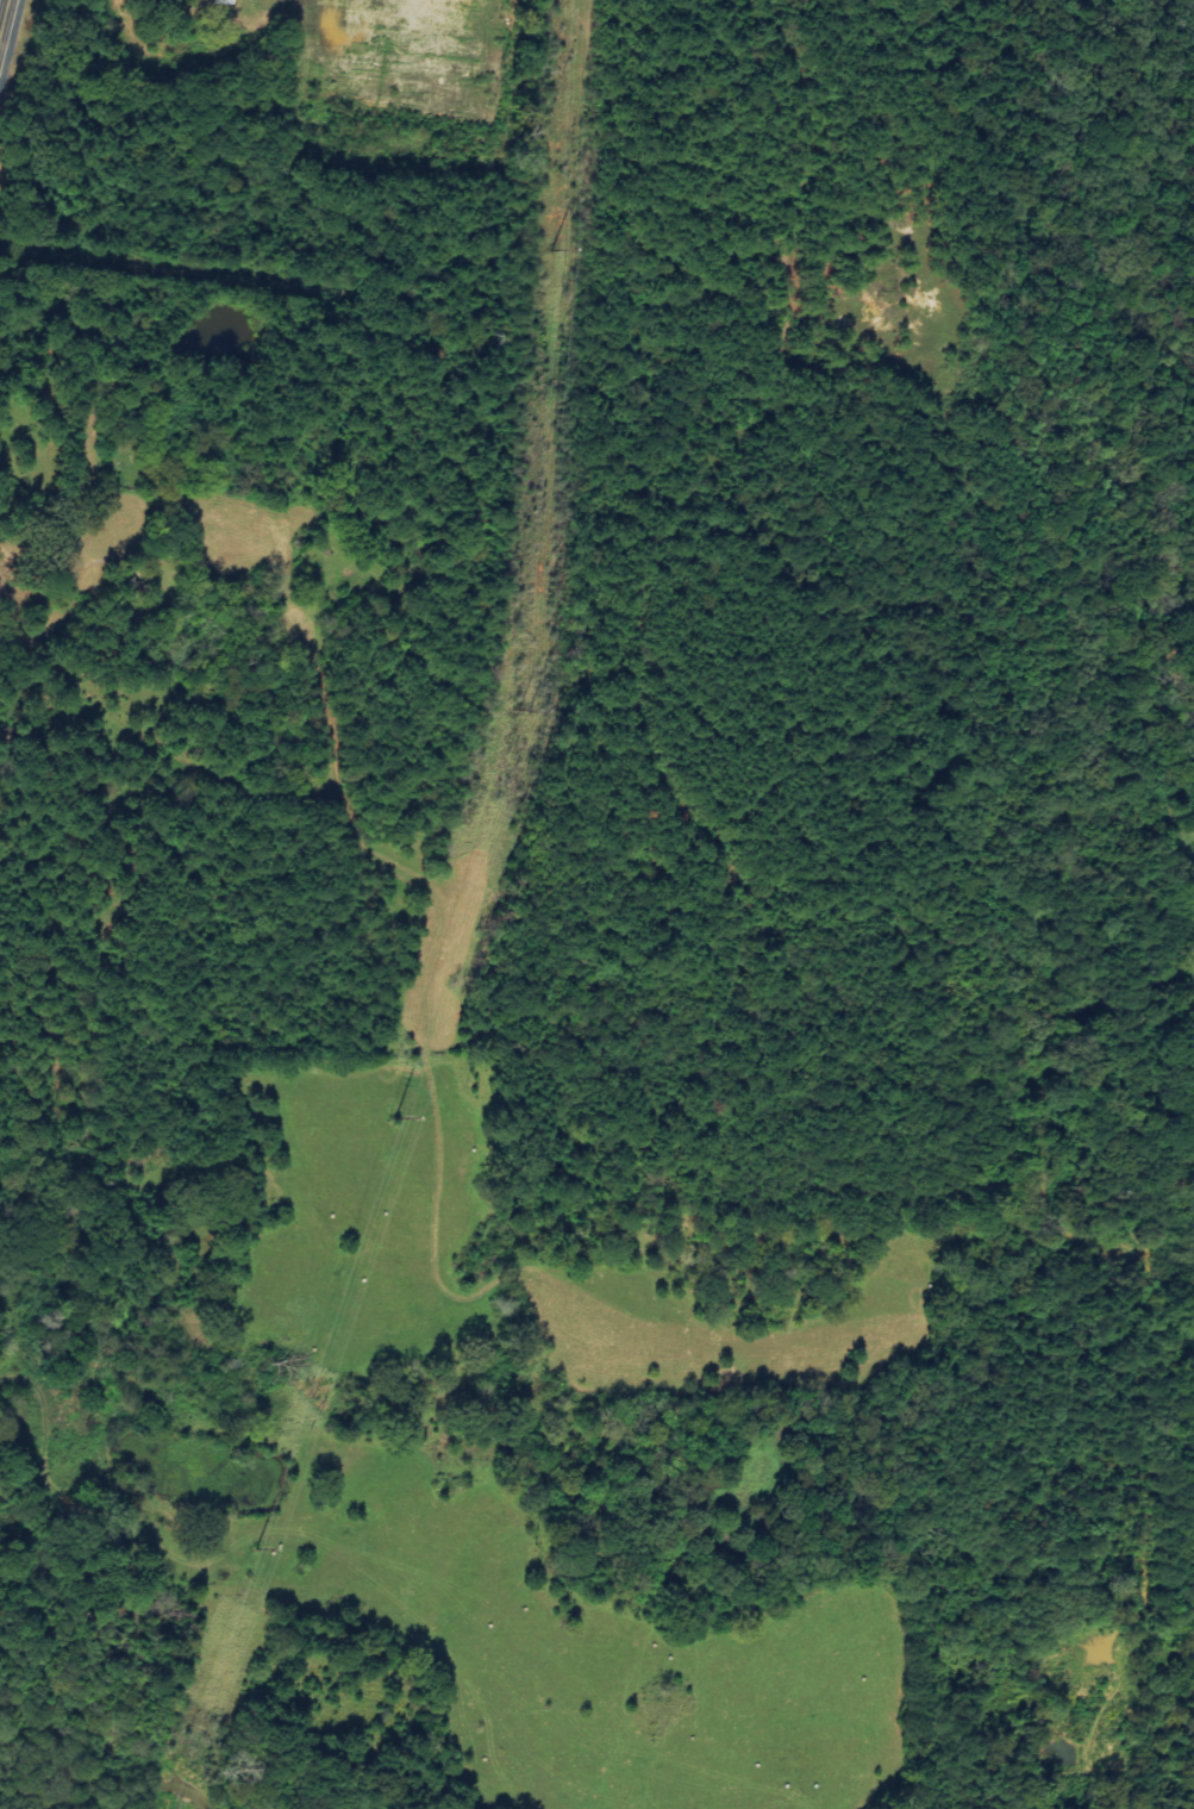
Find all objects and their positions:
building: (223, 1)
road: (5, 21)
power tower: (557, 250)
road: (340, 690)
road: (168, 707)
power tower: (523, 712)
road: (377, 906)
power tower: (394, 1118)
road: (1, 1504)
power tower: (256, 1549)
road: (48, 1711)

